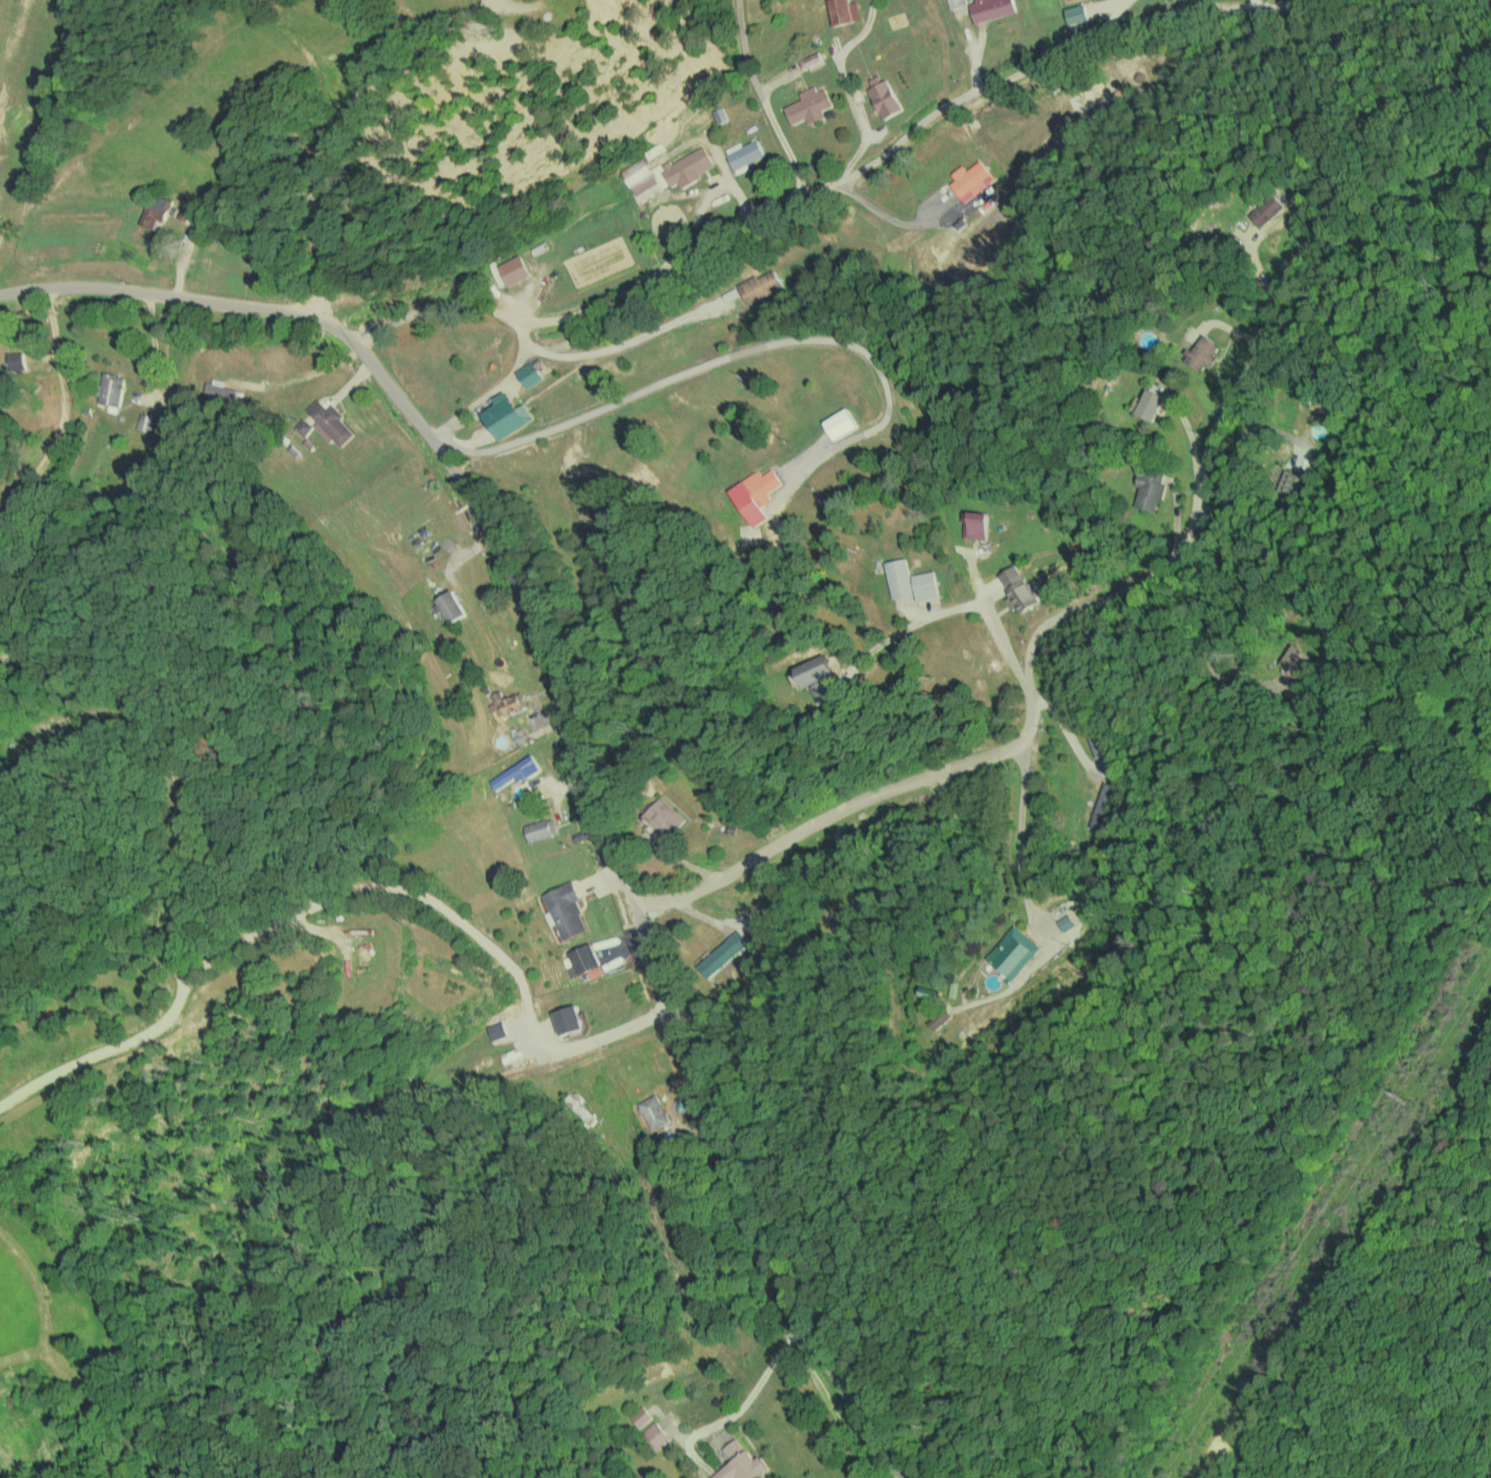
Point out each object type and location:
building: (991, 8)
road: (896, 69)
building: (885, 99)
road: (766, 101)
building: (809, 105)
building: (744, 153)
building: (687, 167)
road: (858, 171)
building: (970, 180)
building: (645, 184)
building: (155, 210)
building: (1266, 210)
building: (186, 212)
building: (513, 269)
building: (1202, 352)
building: (15, 361)
building: (528, 374)
building: (111, 391)
building: (219, 393)
building: (1150, 404)
building: (505, 416)
building: (145, 421)
building: (325, 423)
road: (1261, 460)
building: (1293, 483)
building: (1149, 489)
building: (755, 494)
building: (974, 524)
road: (1059, 556)
building: (899, 577)
building: (925, 585)
building: (1019, 589)
building: (450, 606)
road: (1200, 628)
building: (1295, 660)
building: (814, 669)
building: (821, 689)
building: (508, 702)
road: (570, 737)
building: (516, 772)
building: (1101, 805)
building: (665, 816)
building: (540, 829)
building: (565, 909)
road: (331, 921)
building: (1065, 921)
building: (1013, 952)
building: (722, 953)
building: (583, 958)
road: (1017, 964)
building: (940, 1018)
building: (568, 1019)
power tower: (1405, 1094)
building: (653, 1111)
building: (640, 1416)
building: (654, 1435)
road: (753, 1461)
building: (741, 1463)

